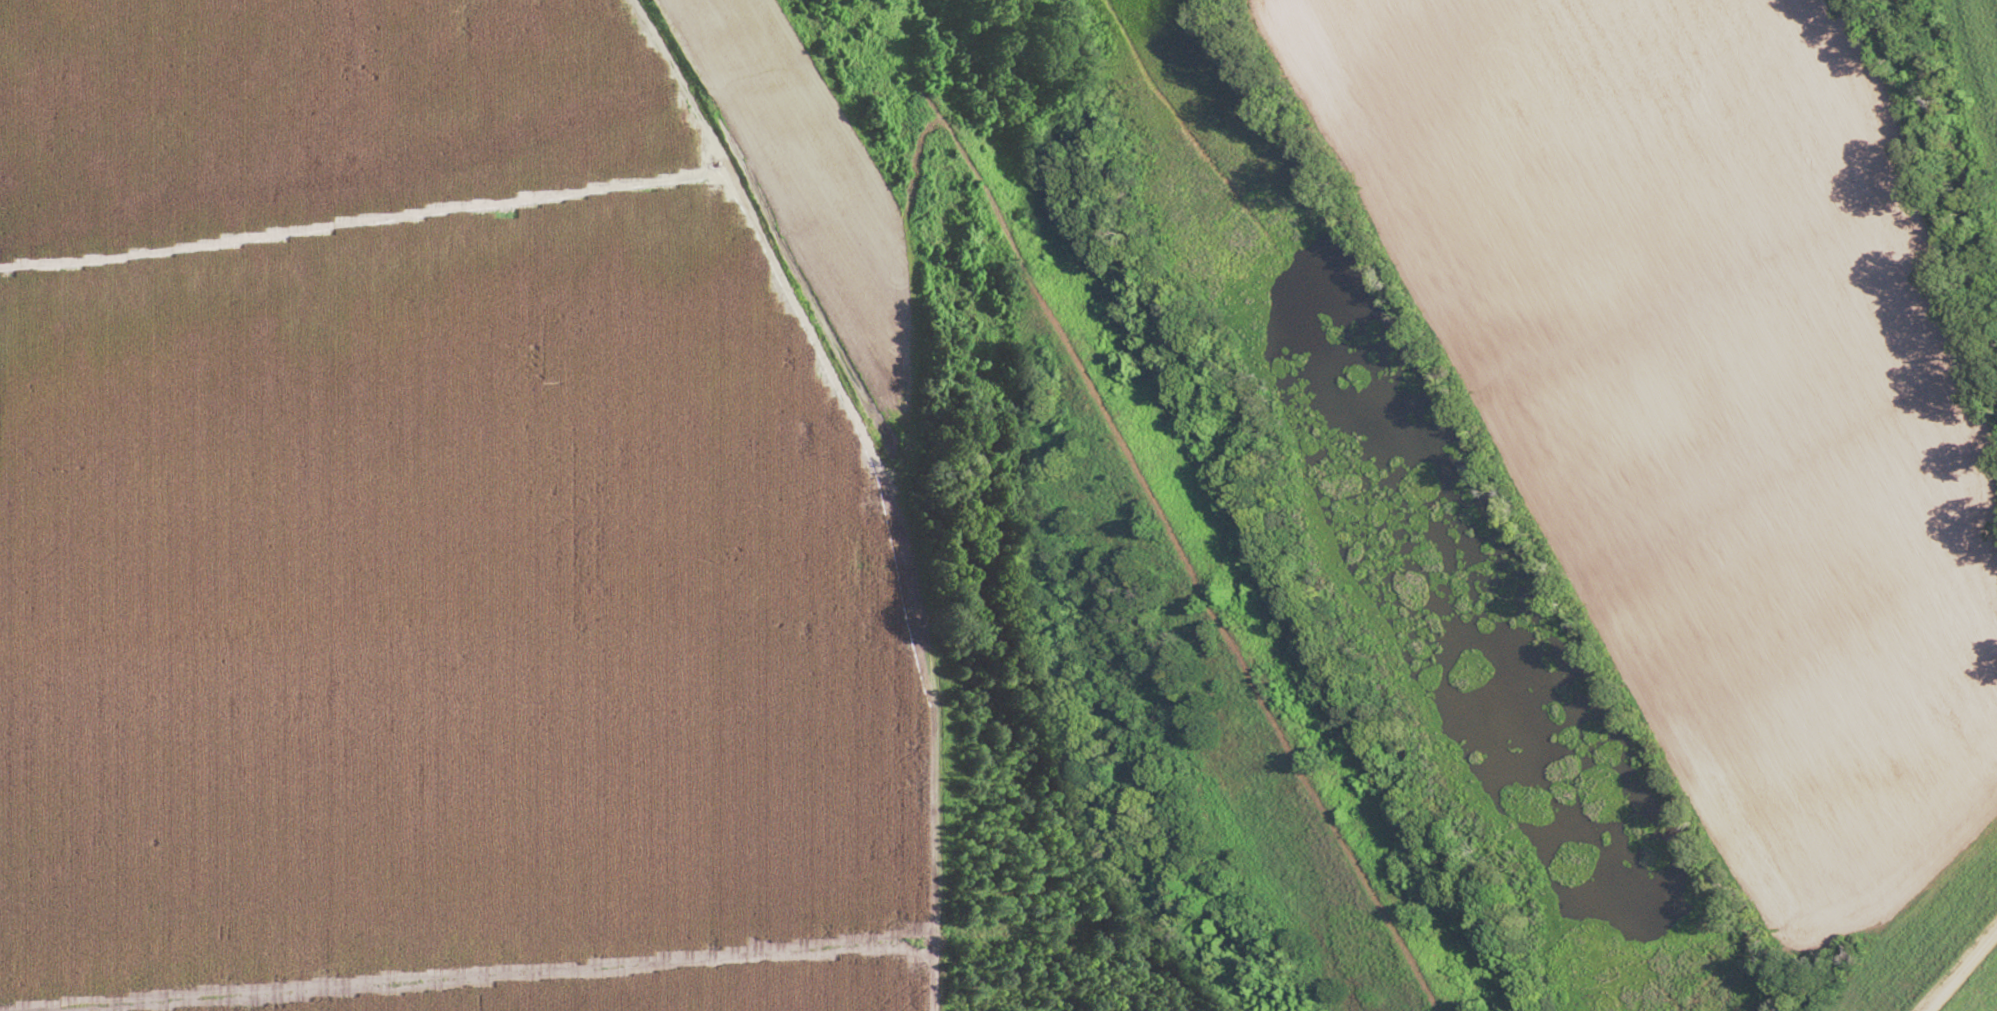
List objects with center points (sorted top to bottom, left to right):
road: (922, 487)
road: (1962, 972)

